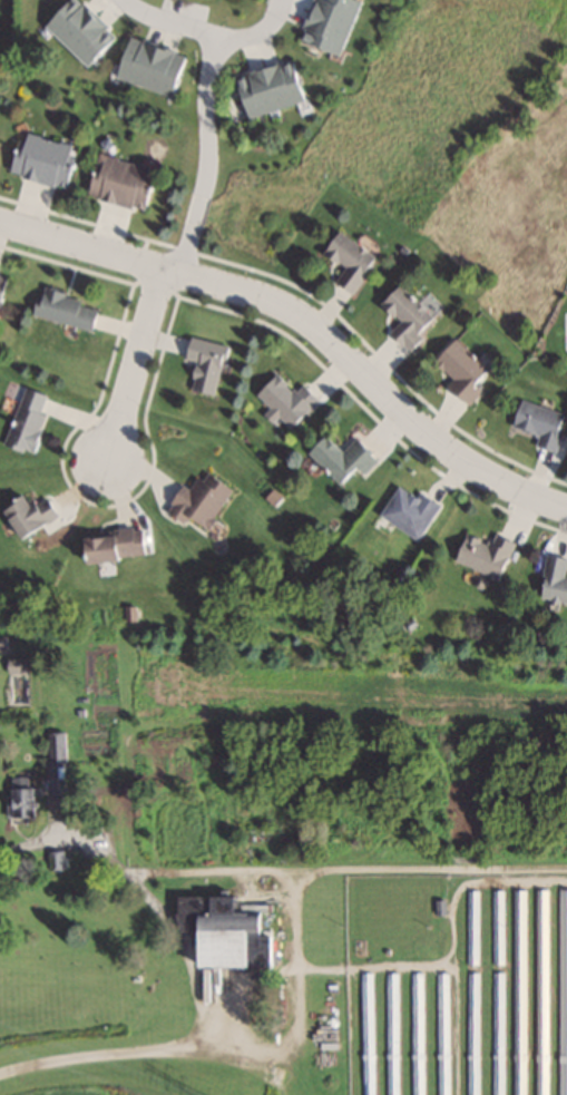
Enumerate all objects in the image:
building: (333, 23)
building: (82, 31)
road: (204, 32)
building: (154, 67)
building: (274, 88)
road: (203, 155)
building: (47, 159)
building: (123, 180)
building: (352, 261)
building: (3, 286)
building: (68, 307)
building: (409, 316)
road: (306, 322)
building: (207, 363)
road: (136, 365)
building: (463, 371)
building: (290, 399)
building: (30, 417)
building: (537, 422)
building: (343, 458)
building: (204, 499)
building: (412, 509)
building: (32, 514)
building: (116, 545)
building: (481, 554)
building: (551, 578)
building: (3, 641)
building: (18, 663)
building: (27, 800)
building: (465, 853)
building: (471, 926)
building: (497, 926)
building: (219, 932)
road: (193, 975)
building: (540, 990)
building: (519, 991)
building: (365, 1033)
building: (391, 1033)
building: (417, 1033)
building: (442, 1033)
building: (471, 1033)
building: (497, 1033)

